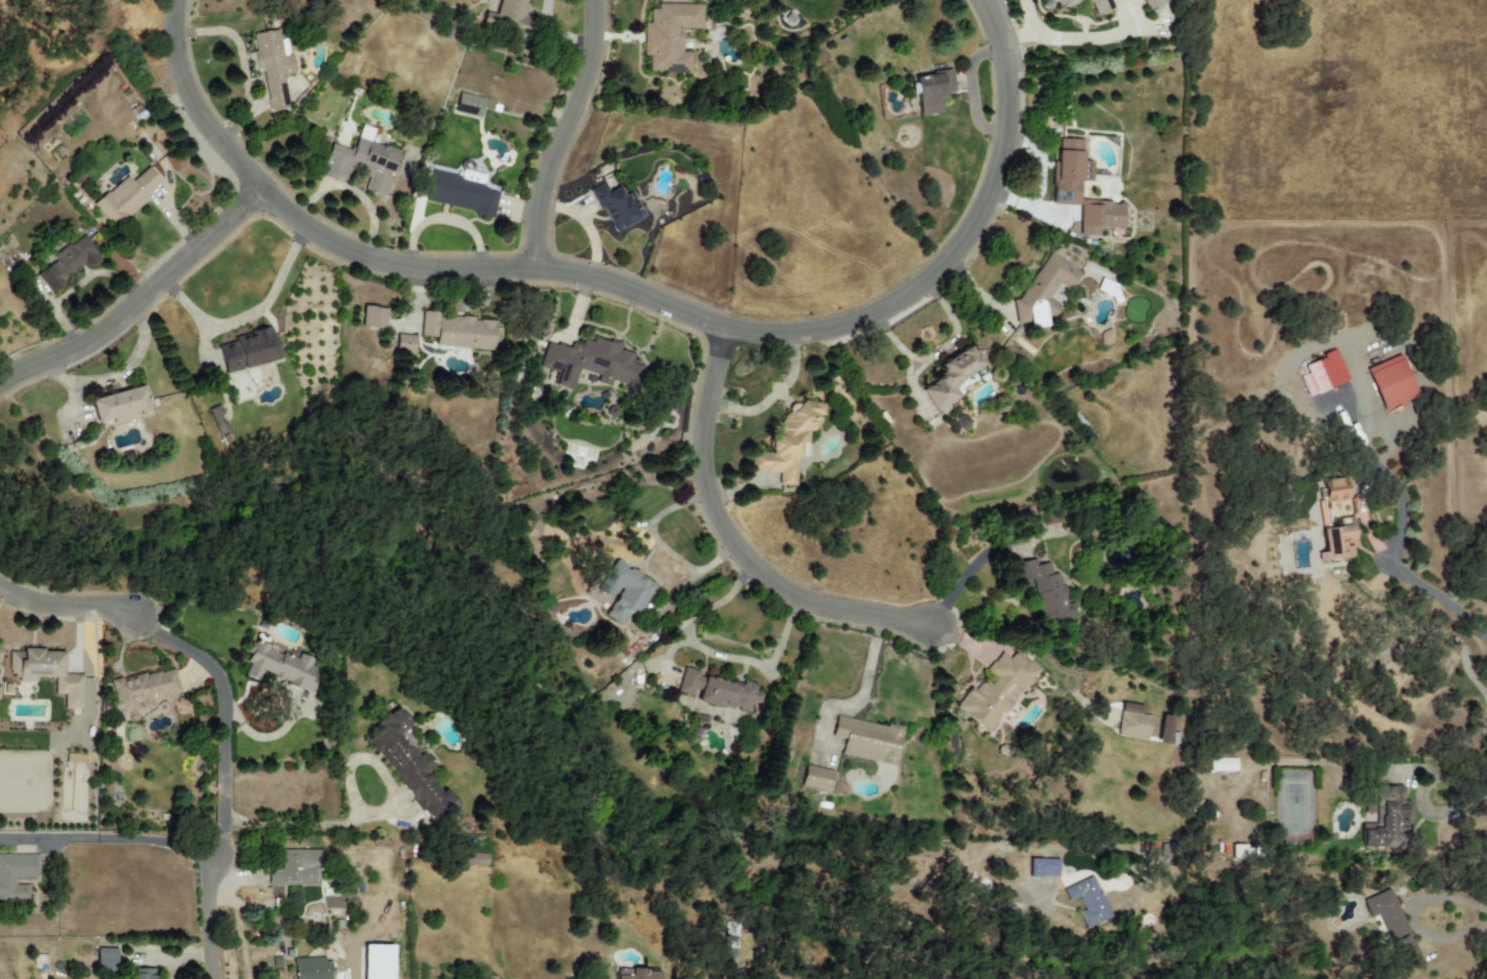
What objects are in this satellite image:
building: (1155, 4)
building: (1101, 7)
building: (508, 17)
road: (1025, 29)
building: (669, 37)
building: (272, 67)
building: (932, 91)
road: (195, 105)
building: (469, 105)
road: (565, 134)
building: (361, 162)
road: (353, 191)
building: (1067, 191)
building: (461, 192)
building: (126, 196)
building: (617, 207)
building: (67, 264)
building: (1109, 289)
building: (1042, 292)
road: (141, 299)
road: (250, 312)
building: (373, 318)
road: (740, 329)
building: (459, 331)
building: (1105, 337)
building: (404, 344)
building: (247, 351)
building: (591, 363)
building: (1323, 374)
building: (951, 377)
building: (1391, 382)
building: (121, 406)
building: (218, 420)
building: (788, 442)
building: (1334, 490)
road: (1396, 537)
building: (1338, 541)
road: (734, 542)
building: (624, 591)
building: (1045, 593)
road: (66, 604)
road: (184, 648)
road: (713, 654)
building: (279, 666)
building: (46, 673)
building: (142, 690)
building: (997, 690)
building: (719, 691)
building: (1132, 726)
building: (868, 740)
road: (223, 761)
building: (408, 764)
building: (1222, 765)
building: (816, 779)
road: (1477, 788)
road: (1419, 798)
building: (1385, 820)
road: (293, 824)
road: (48, 837)
road: (157, 840)
road: (217, 854)
building: (296, 868)
building: (1043, 868)
building: (7, 881)
road: (915, 883)
building: (1088, 901)
road: (1409, 915)
building: (1393, 926)
road: (208, 927)
building: (105, 960)
building: (311, 968)
building: (142, 974)
building: (641, 974)

